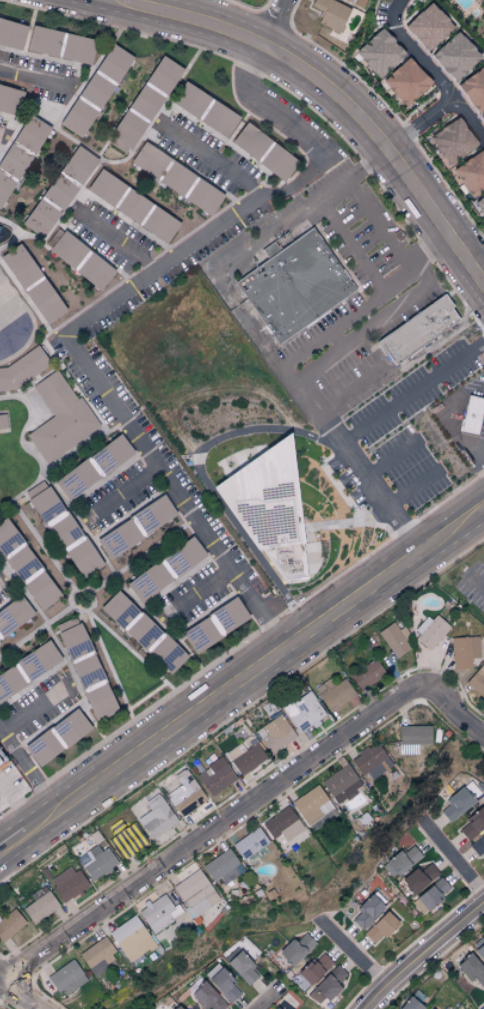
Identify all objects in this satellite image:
building: (349, 0)
building: (330, 13)
road: (279, 23)
building: (428, 26)
building: (11, 33)
building: (43, 40)
building: (77, 48)
building: (379, 52)
building: (455, 55)
building: (113, 62)
road: (429, 71)
building: (163, 74)
road: (35, 78)
building: (406, 81)
building: (474, 88)
building: (94, 90)
road: (327, 95)
building: (8, 97)
building: (189, 99)
building: (76, 117)
building: (134, 117)
building: (218, 118)
building: (482, 118)
building: (30, 133)
road: (3, 138)
building: (250, 140)
building: (453, 140)
building: (149, 159)
building: (12, 160)
road: (210, 160)
building: (277, 162)
building: (78, 164)
road: (334, 168)
building: (471, 173)
building: (176, 178)
building: (4, 187)
building: (202, 196)
building: (480, 204)
building: (48, 205)
building: (132, 205)
road: (377, 222)
road: (117, 243)
road: (349, 243)
building: (65, 247)
road: (248, 248)
building: (19, 265)
road: (479, 266)
building: (94, 271)
building: (299, 289)
road: (366, 299)
building: (44, 301)
road: (397, 308)
road: (98, 310)
building: (423, 334)
road: (332, 359)
building: (22, 369)
road: (353, 389)
building: (59, 417)
building: (475, 420)
building: (2, 422)
road: (356, 429)
building: (110, 454)
road: (478, 454)
road: (392, 457)
building: (75, 479)
road: (415, 488)
road: (122, 492)
building: (264, 499)
building: (152, 513)
building: (51, 514)
building: (7, 536)
building: (120, 537)
building: (82, 557)
building: (22, 564)
building: (165, 569)
road: (474, 582)
building: (40, 590)
road: (195, 591)
building: (117, 609)
building: (13, 615)
building: (214, 625)
building: (141, 631)
building: (431, 631)
building: (71, 638)
building: (395, 639)
building: (464, 652)
building: (166, 654)
building: (37, 660)
building: (85, 671)
road: (255, 671)
building: (367, 674)
building: (477, 681)
building: (9, 682)
building: (334, 693)
building: (99, 702)
road: (32, 710)
building: (304, 712)
road: (461, 714)
building: (70, 727)
building: (276, 734)
building: (412, 738)
building: (41, 748)
building: (245, 757)
building: (2, 759)
building: (372, 762)
road: (28, 771)
building: (215, 776)
building: (341, 784)
building: (185, 794)
road: (18, 801)
building: (460, 801)
building: (312, 805)
building: (157, 818)
building: (473, 824)
building: (283, 825)
road: (217, 830)
building: (127, 839)
road: (13, 844)
building: (250, 844)
building: (477, 844)
road: (3, 845)
road: (453, 859)
building: (401, 861)
building: (99, 862)
building: (223, 867)
building: (419, 878)
building: (68, 883)
building: (432, 893)
building: (196, 894)
building: (40, 907)
building: (367, 911)
building: (159, 912)
building: (10, 924)
building: (380, 928)
building: (131, 938)
building: (296, 949)
building: (480, 951)
road: (352, 953)
road: (422, 954)
building: (98, 956)
building: (242, 968)
building: (314, 969)
building: (471, 969)
building: (67, 978)
building: (223, 983)
building: (327, 986)
road: (16, 996)
building: (208, 997)
road: (266, 1000)
building: (410, 1004)
road: (4, 1006)
building: (177, 1007)

